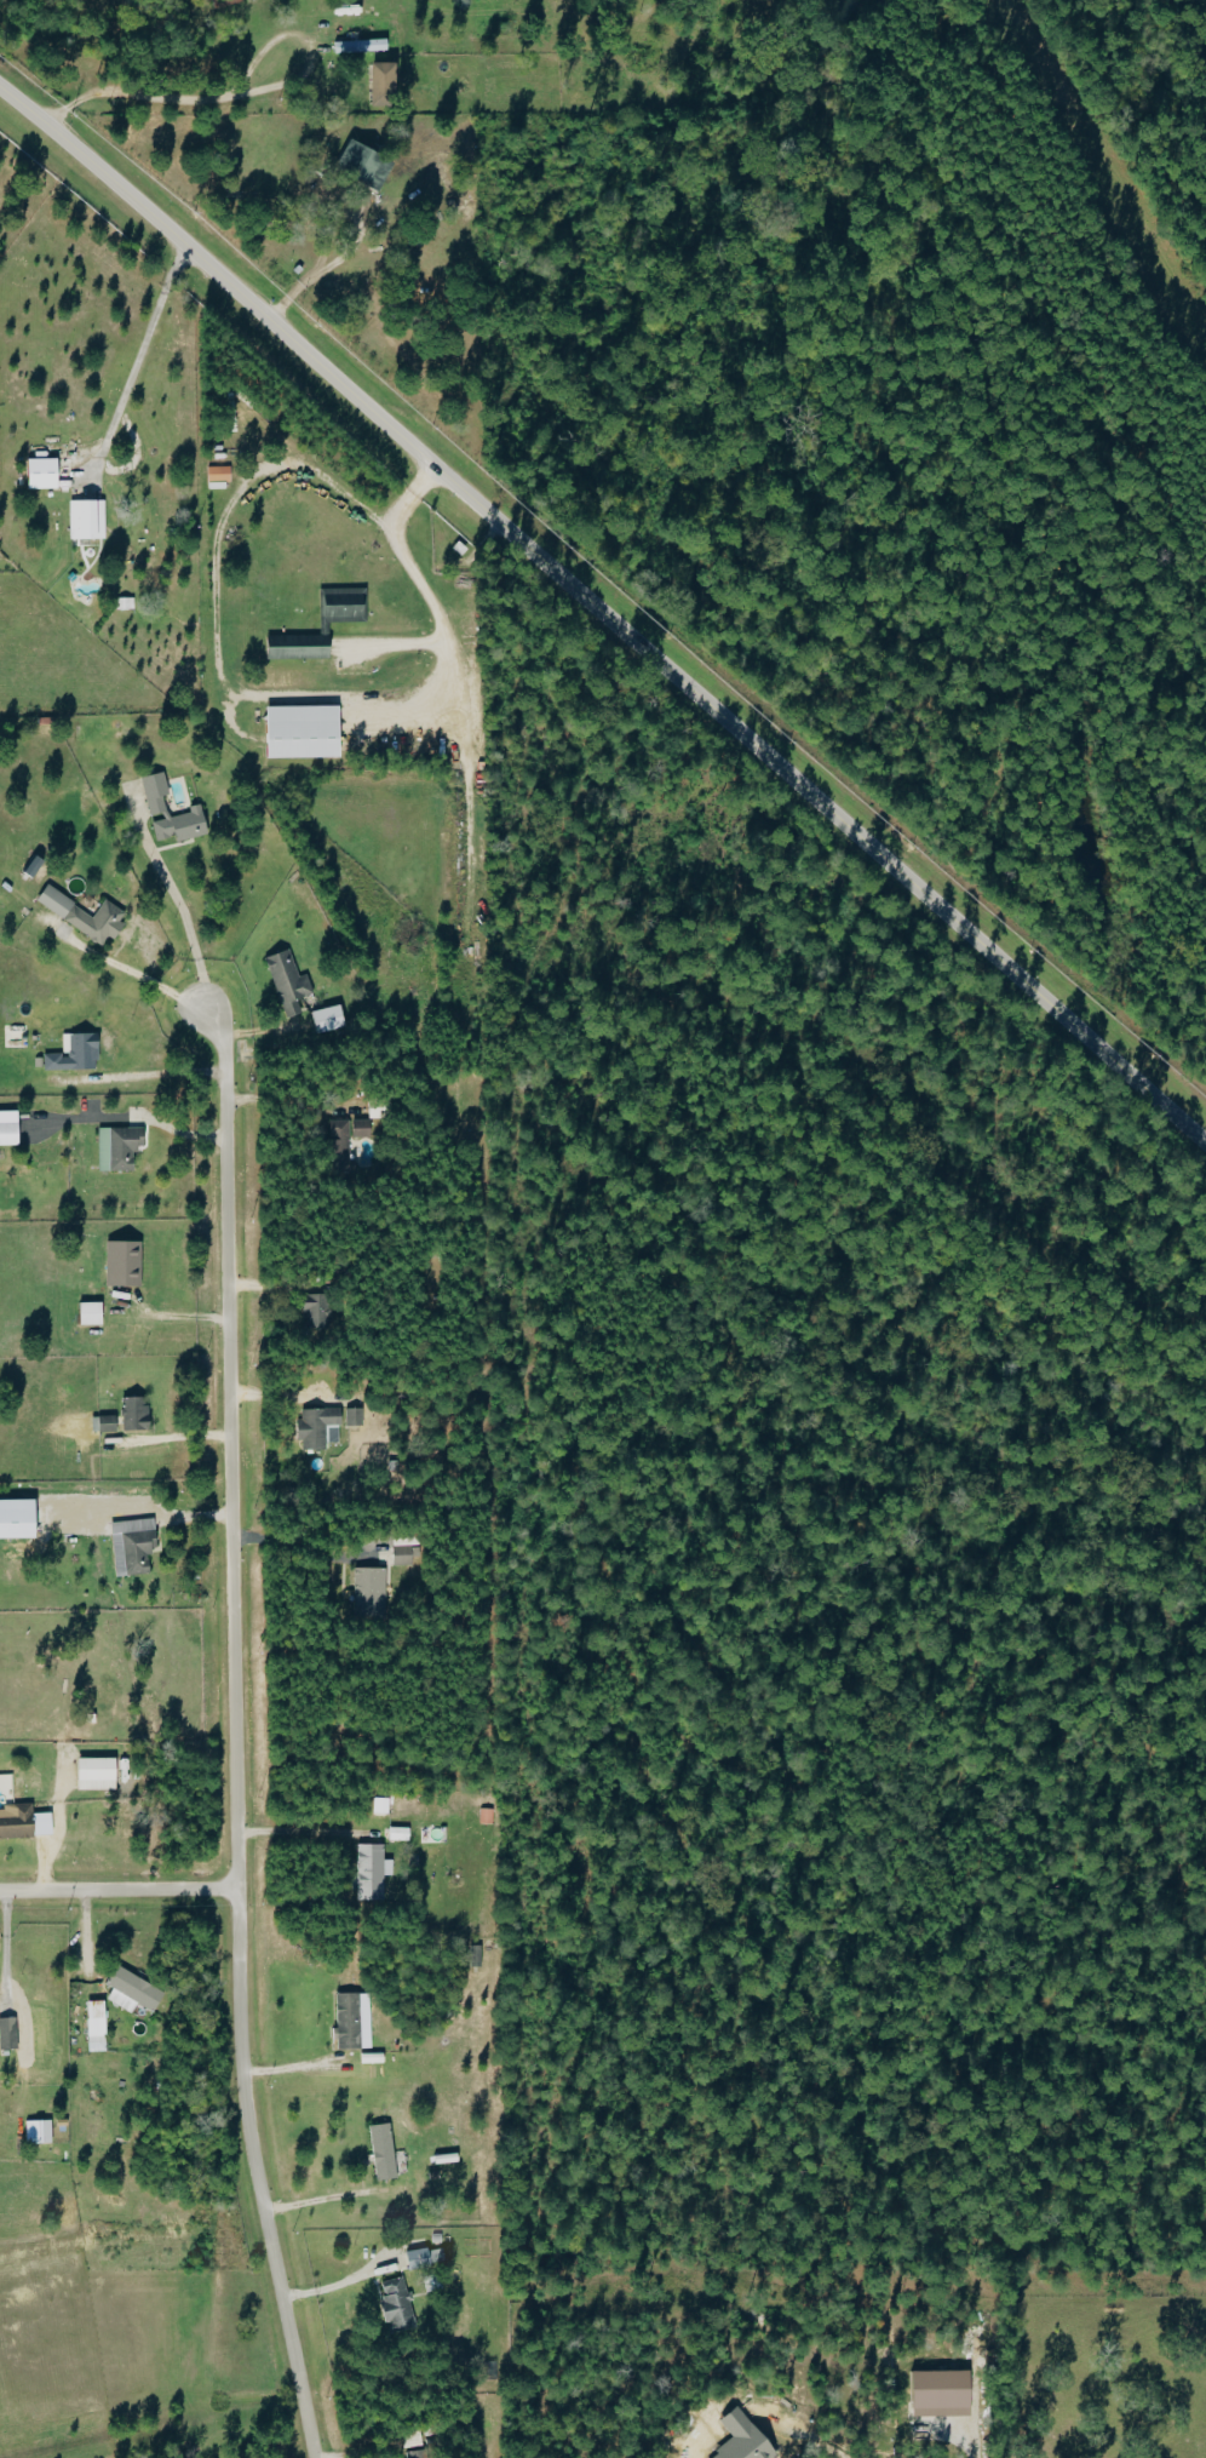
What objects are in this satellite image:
road: (21, 21)
building: (358, 46)
building: (379, 85)
road: (247, 101)
building: (360, 165)
road: (311, 288)
road: (143, 368)
building: (39, 474)
building: (216, 477)
building: (85, 520)
road: (418, 581)
building: (121, 605)
road: (605, 618)
building: (322, 629)
building: (298, 733)
building: (155, 809)
building: (30, 867)
road: (176, 895)
building: (81, 915)
building: (286, 981)
building: (326, 1019)
building: (71, 1053)
road: (138, 1077)
road: (280, 1105)
building: (360, 1128)
building: (6, 1134)
building: (337, 1146)
building: (116, 1147)
building: (121, 1262)
building: (314, 1310)
building: (87, 1313)
building: (133, 1414)
building: (352, 1416)
building: (102, 1423)
building: (316, 1428)
road: (174, 1437)
building: (131, 1546)
road: (300, 1548)
building: (367, 1592)
road: (234, 1729)
building: (92, 1774)
building: (486, 1816)
building: (16, 1822)
road: (294, 1834)
building: (397, 1834)
building: (369, 1872)
road: (119, 1889)
building: (475, 1955)
building: (128, 1992)
building: (346, 2022)
building: (7, 2034)
building: (41, 2132)
building: (381, 2152)
road: (333, 2198)
building: (415, 2259)
building: (395, 2305)
building: (937, 2395)
building: (414, 2454)

